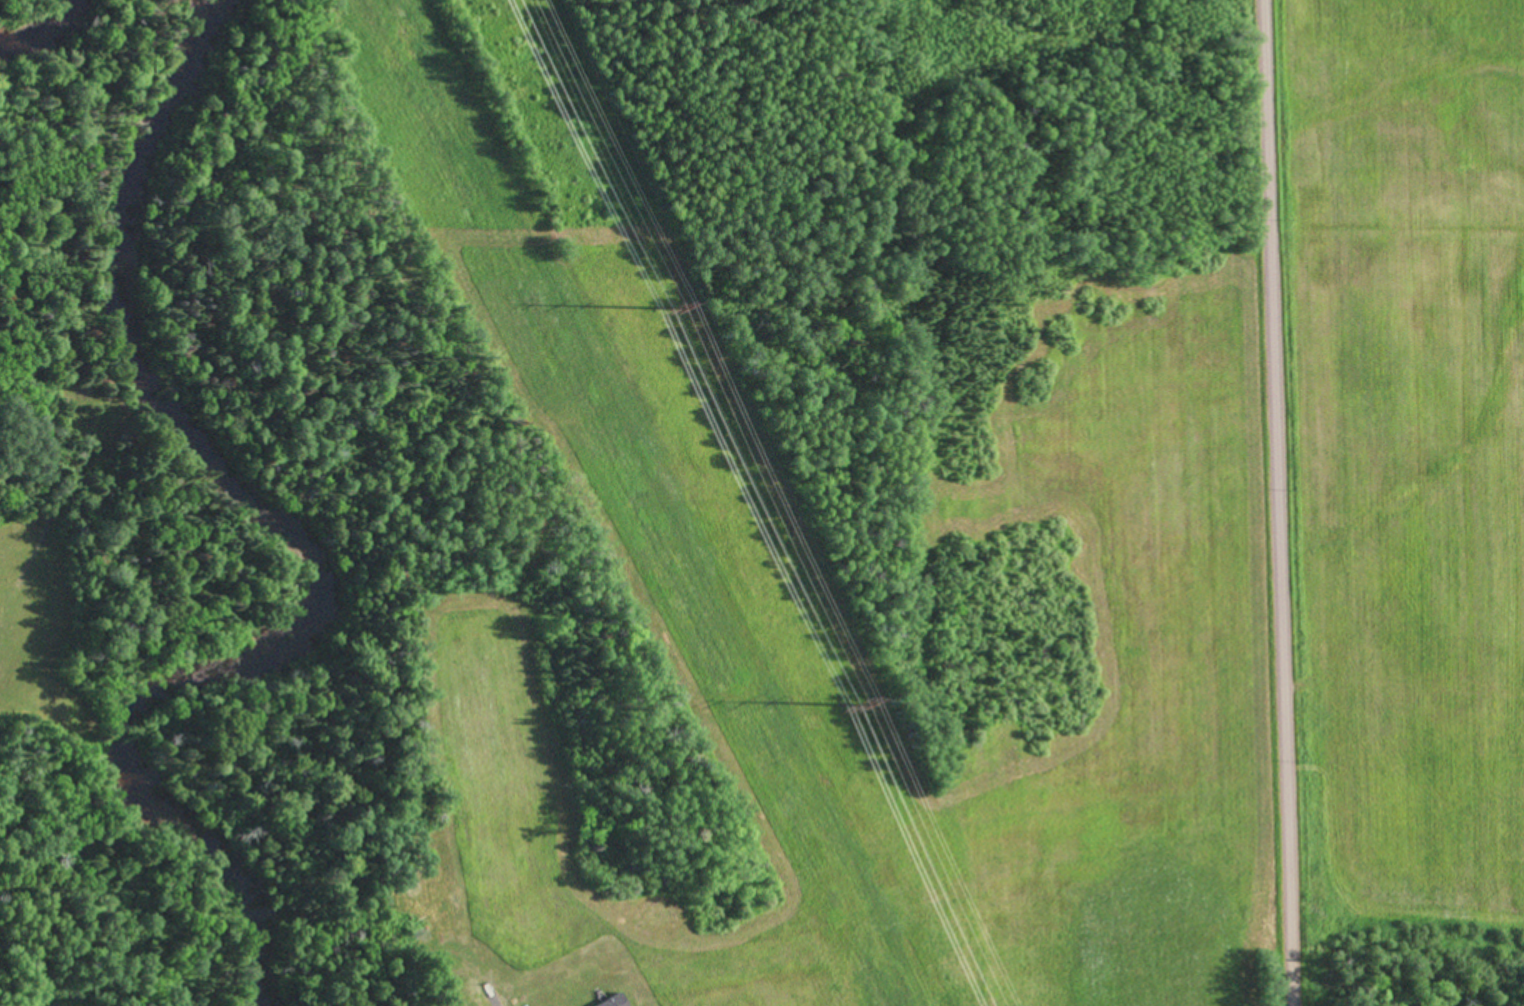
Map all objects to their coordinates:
power tower: (654, 309)
road: (1281, 503)
power tower: (839, 707)
road: (475, 995)
building: (617, 1001)

